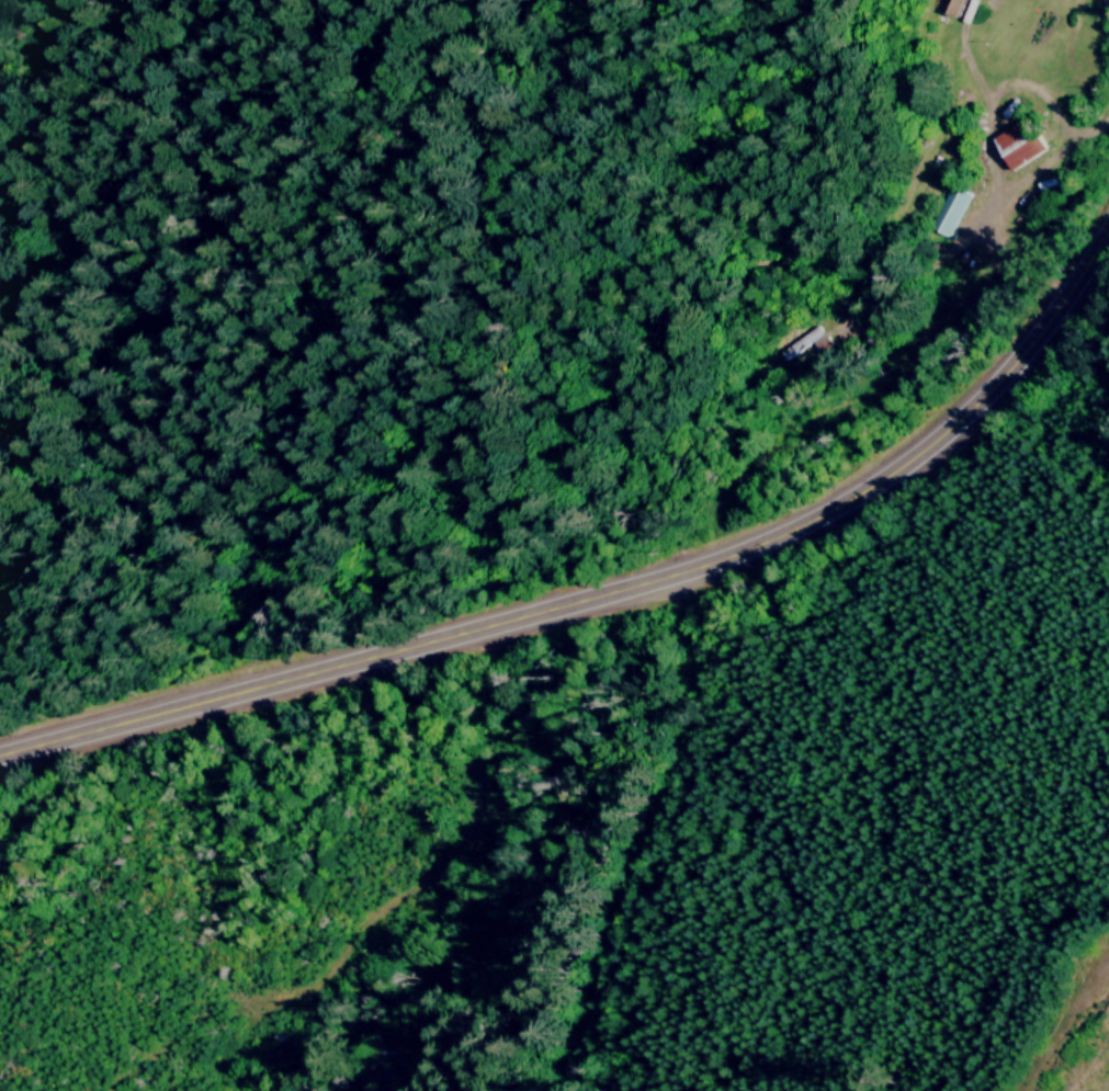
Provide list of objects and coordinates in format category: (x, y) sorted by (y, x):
road: (1107, 1)
building: (953, 5)
road: (982, 90)
road: (1038, 90)
building: (1018, 141)
road: (992, 196)
building: (953, 203)
road: (602, 586)
road: (592, 836)
crop: (263, 856)

